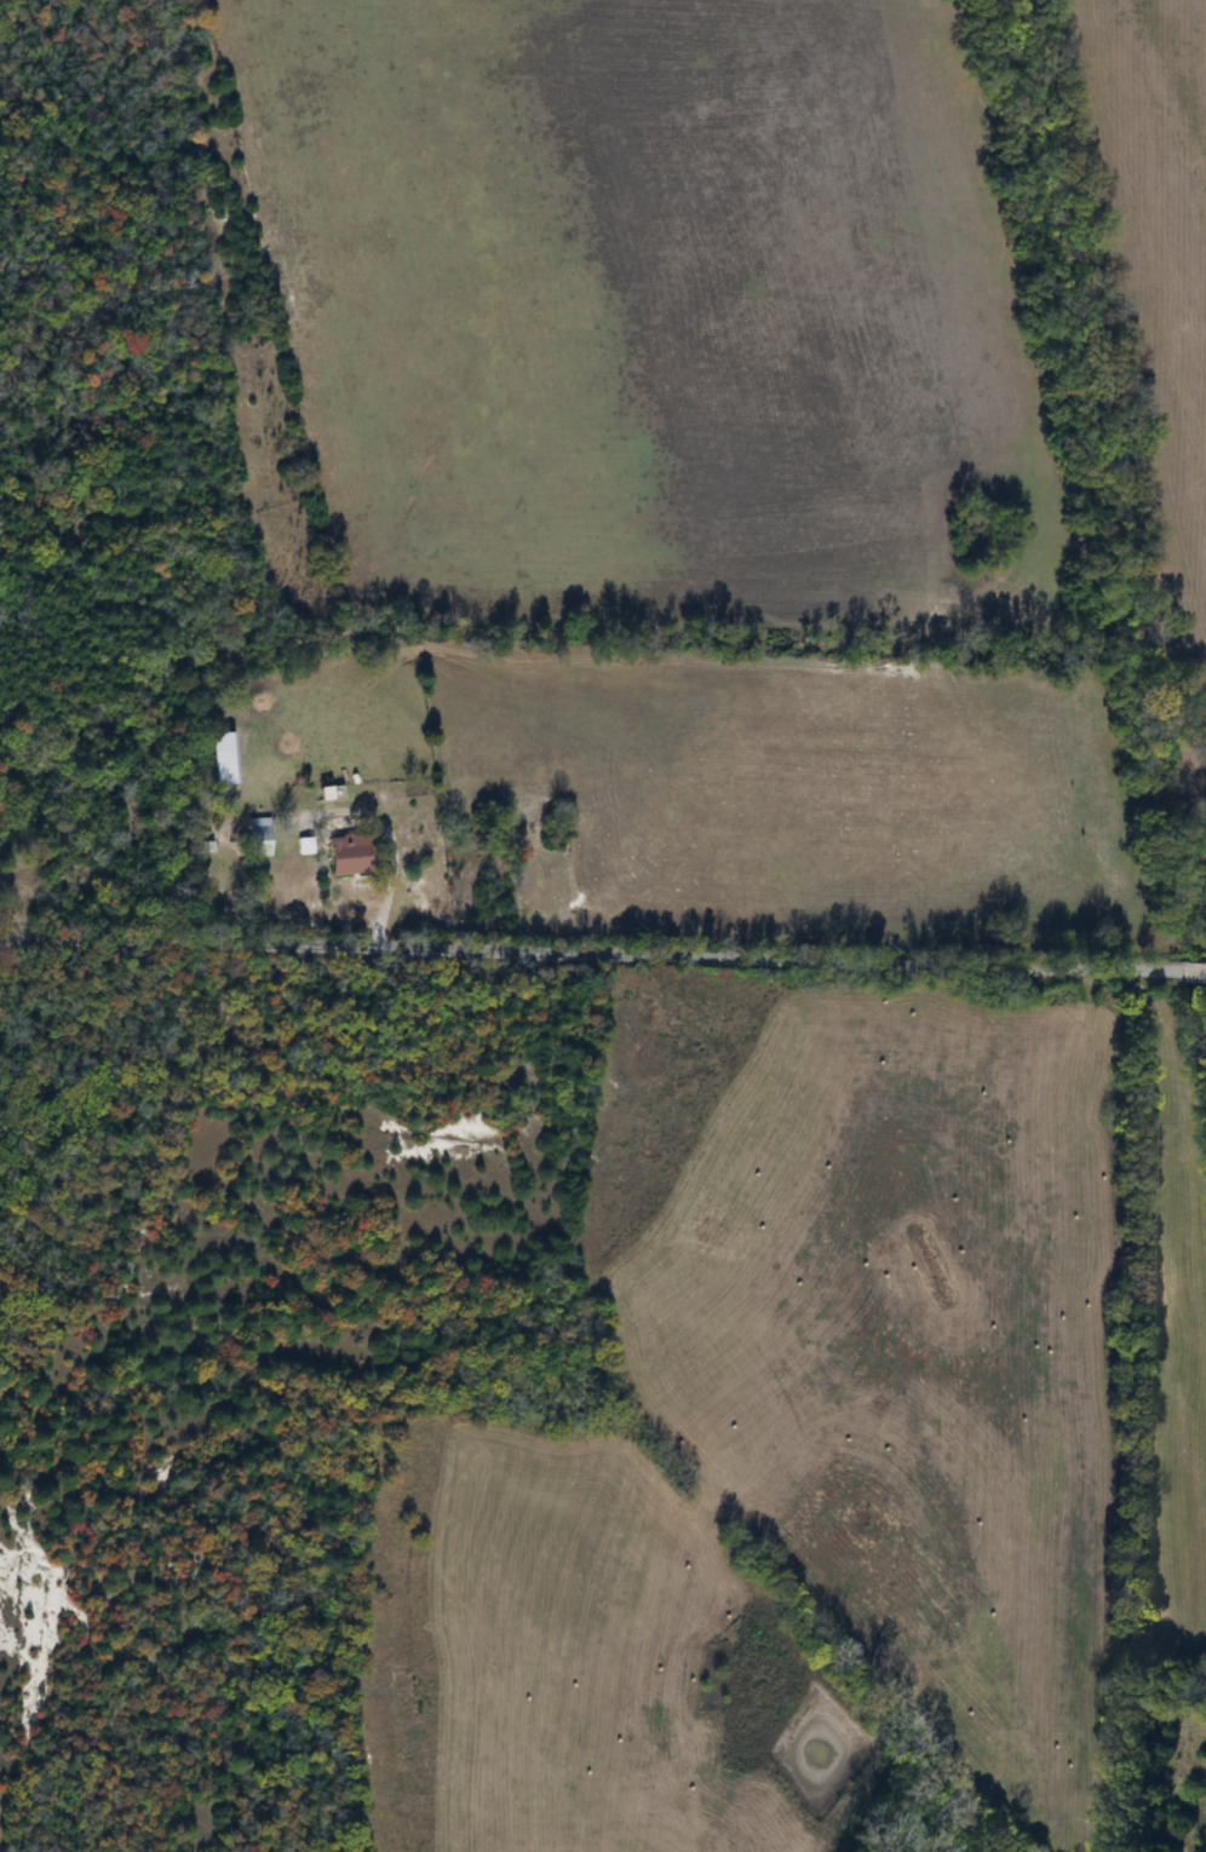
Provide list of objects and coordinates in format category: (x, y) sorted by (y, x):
building: (224, 759)
building: (327, 794)
building: (257, 838)
building: (344, 856)
road: (391, 861)
road: (602, 953)

